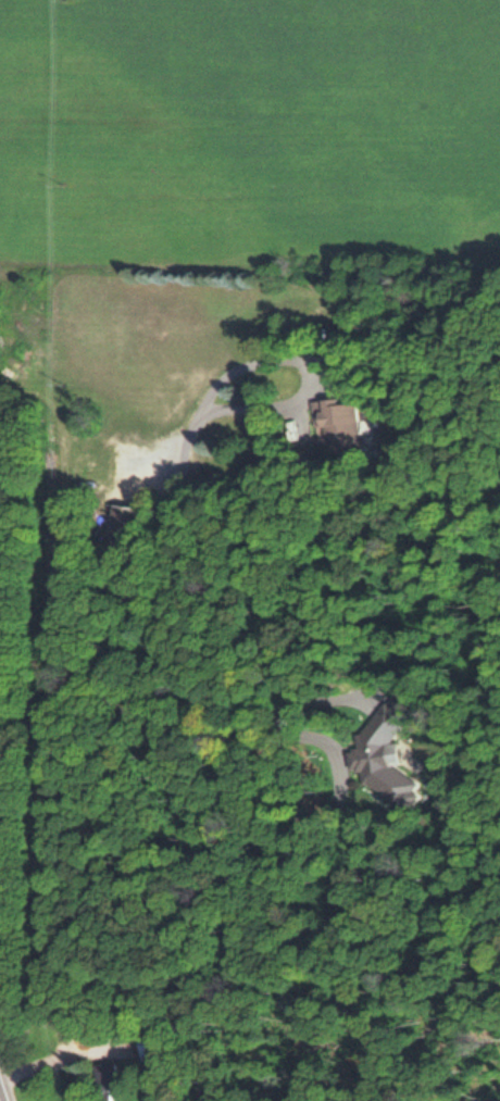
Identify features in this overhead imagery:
building: (336, 422)
building: (120, 521)
building: (103, 1080)
road: (1, 1096)

